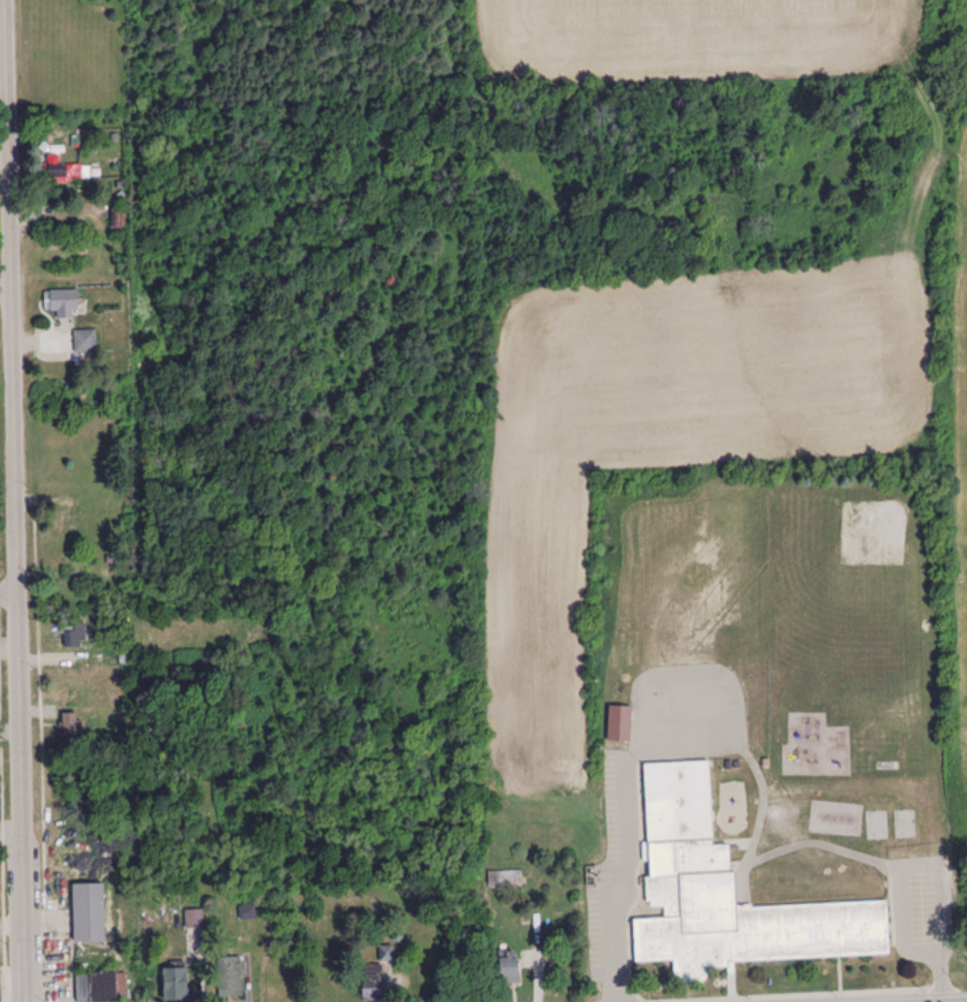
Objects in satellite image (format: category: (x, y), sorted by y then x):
building: (63, 171)
building: (118, 222)
building: (63, 303)
building: (86, 341)
road: (14, 500)
building: (61, 531)
road: (7, 597)
building: (75, 636)
building: (71, 724)
building: (620, 724)
building: (0, 814)
building: (905, 824)
building: (877, 825)
building: (505, 879)
building: (729, 895)
building: (248, 912)
building: (195, 919)
building: (387, 954)
building: (507, 968)
building: (231, 978)
building: (373, 983)
building: (176, 985)
building: (103, 987)
building: (0, 996)
road: (955, 1001)

